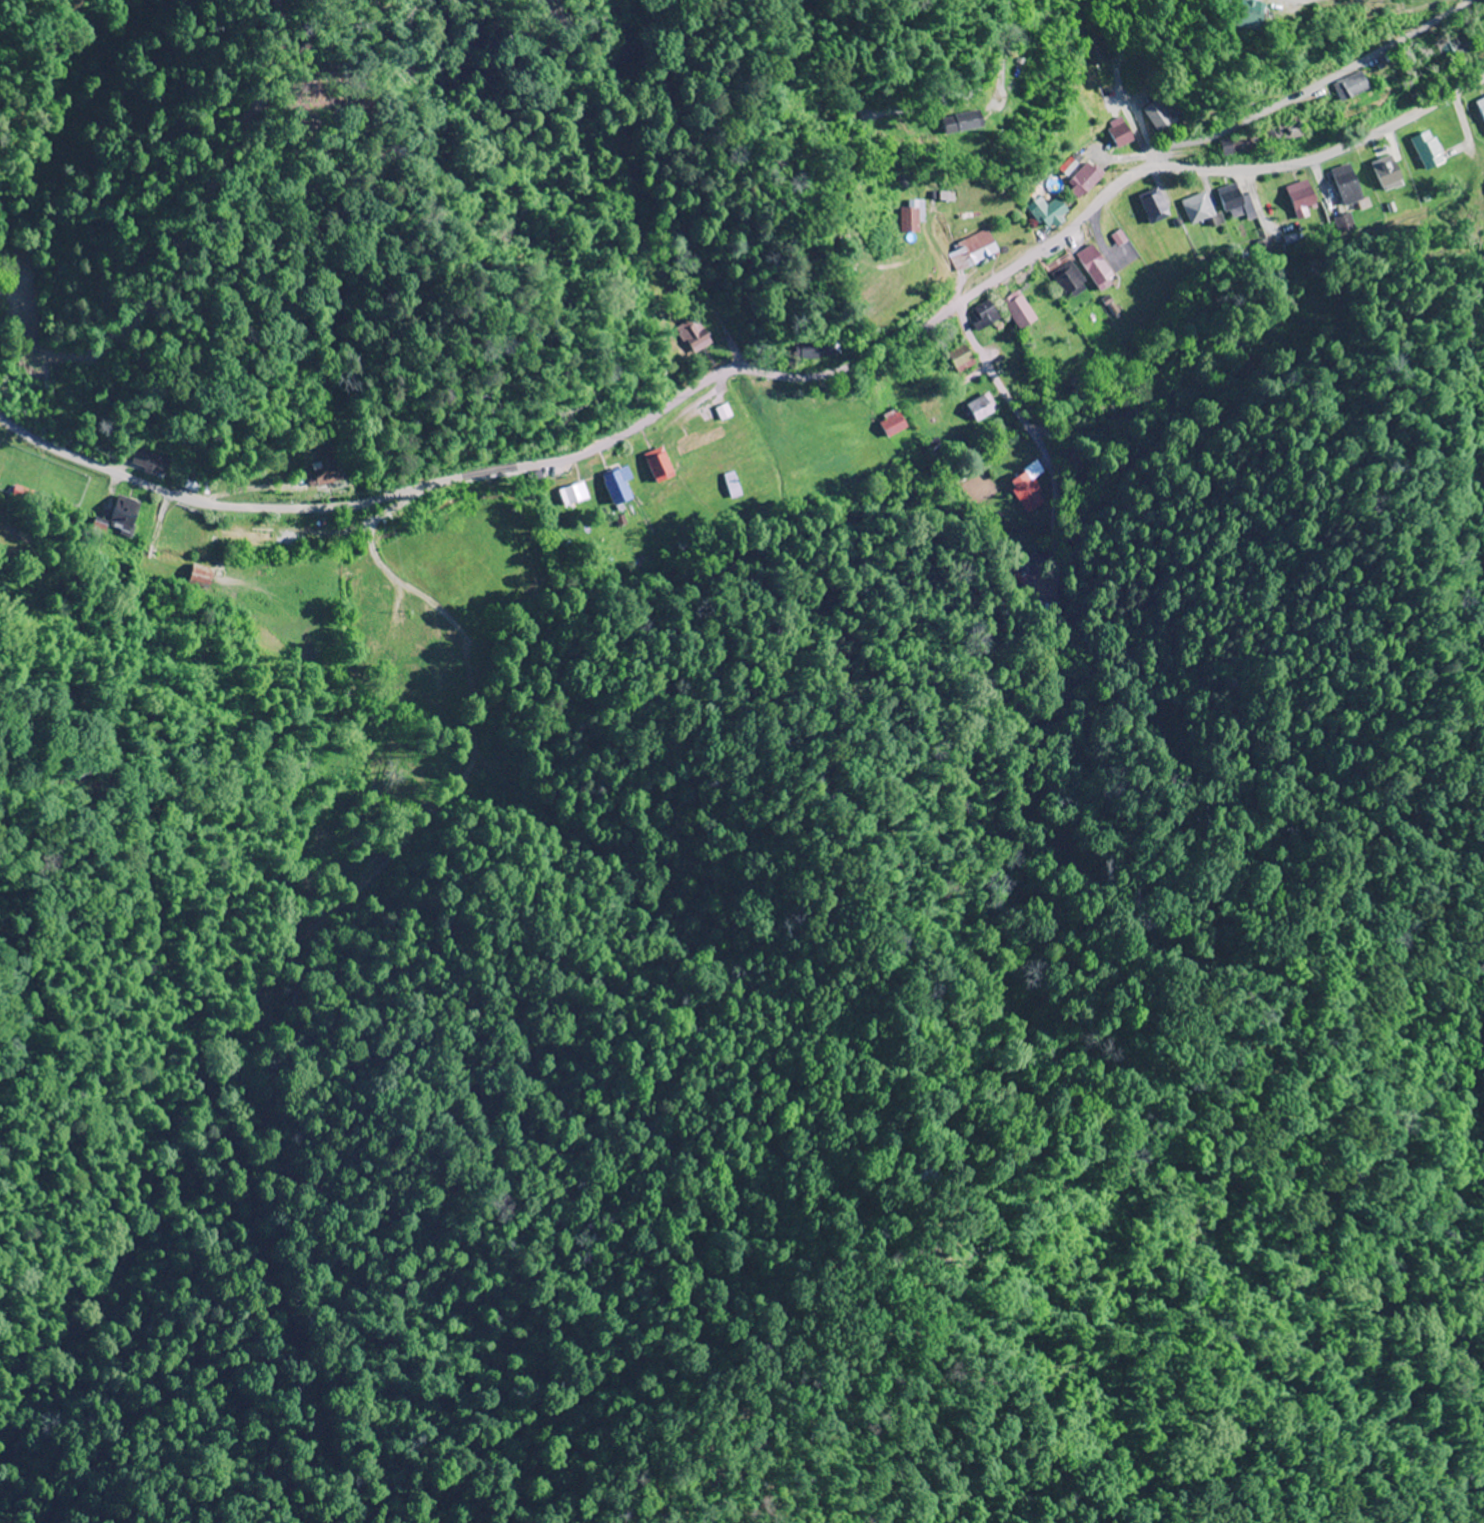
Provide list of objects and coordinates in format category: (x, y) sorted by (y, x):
building: (1256, 21)
building: (1459, 47)
building: (1099, 53)
road: (1002, 59)
building: (1352, 88)
road: (1311, 89)
building: (1482, 105)
building: (1161, 118)
building: (965, 123)
building: (1289, 130)
building: (1121, 133)
building: (1238, 146)
building: (1429, 151)
road: (1322, 154)
building: (1389, 174)
building: (1085, 181)
building: (1349, 186)
building: (1303, 199)
building: (1235, 202)
building: (1156, 206)
building: (1204, 210)
building: (1052, 213)
building: (914, 217)
building: (972, 252)
building: (1098, 268)
building: (1069, 280)
building: (934, 282)
building: (1020, 311)
building: (28, 317)
building: (986, 320)
building: (694, 336)
building: (818, 351)
building: (962, 357)
road: (555, 372)
road: (1003, 394)
road: (1143, 404)
building: (982, 409)
building: (1126, 414)
building: (894, 425)
building: (700, 441)
road: (600, 442)
road: (773, 447)
building: (153, 463)
building: (661, 466)
building: (325, 474)
building: (198, 486)
building: (618, 487)
building: (1027, 489)
building: (22, 494)
building: (577, 495)
building: (179, 534)
building: (247, 536)
building: (287, 539)
road: (105, 572)
road: (413, 594)
building: (440, 670)

